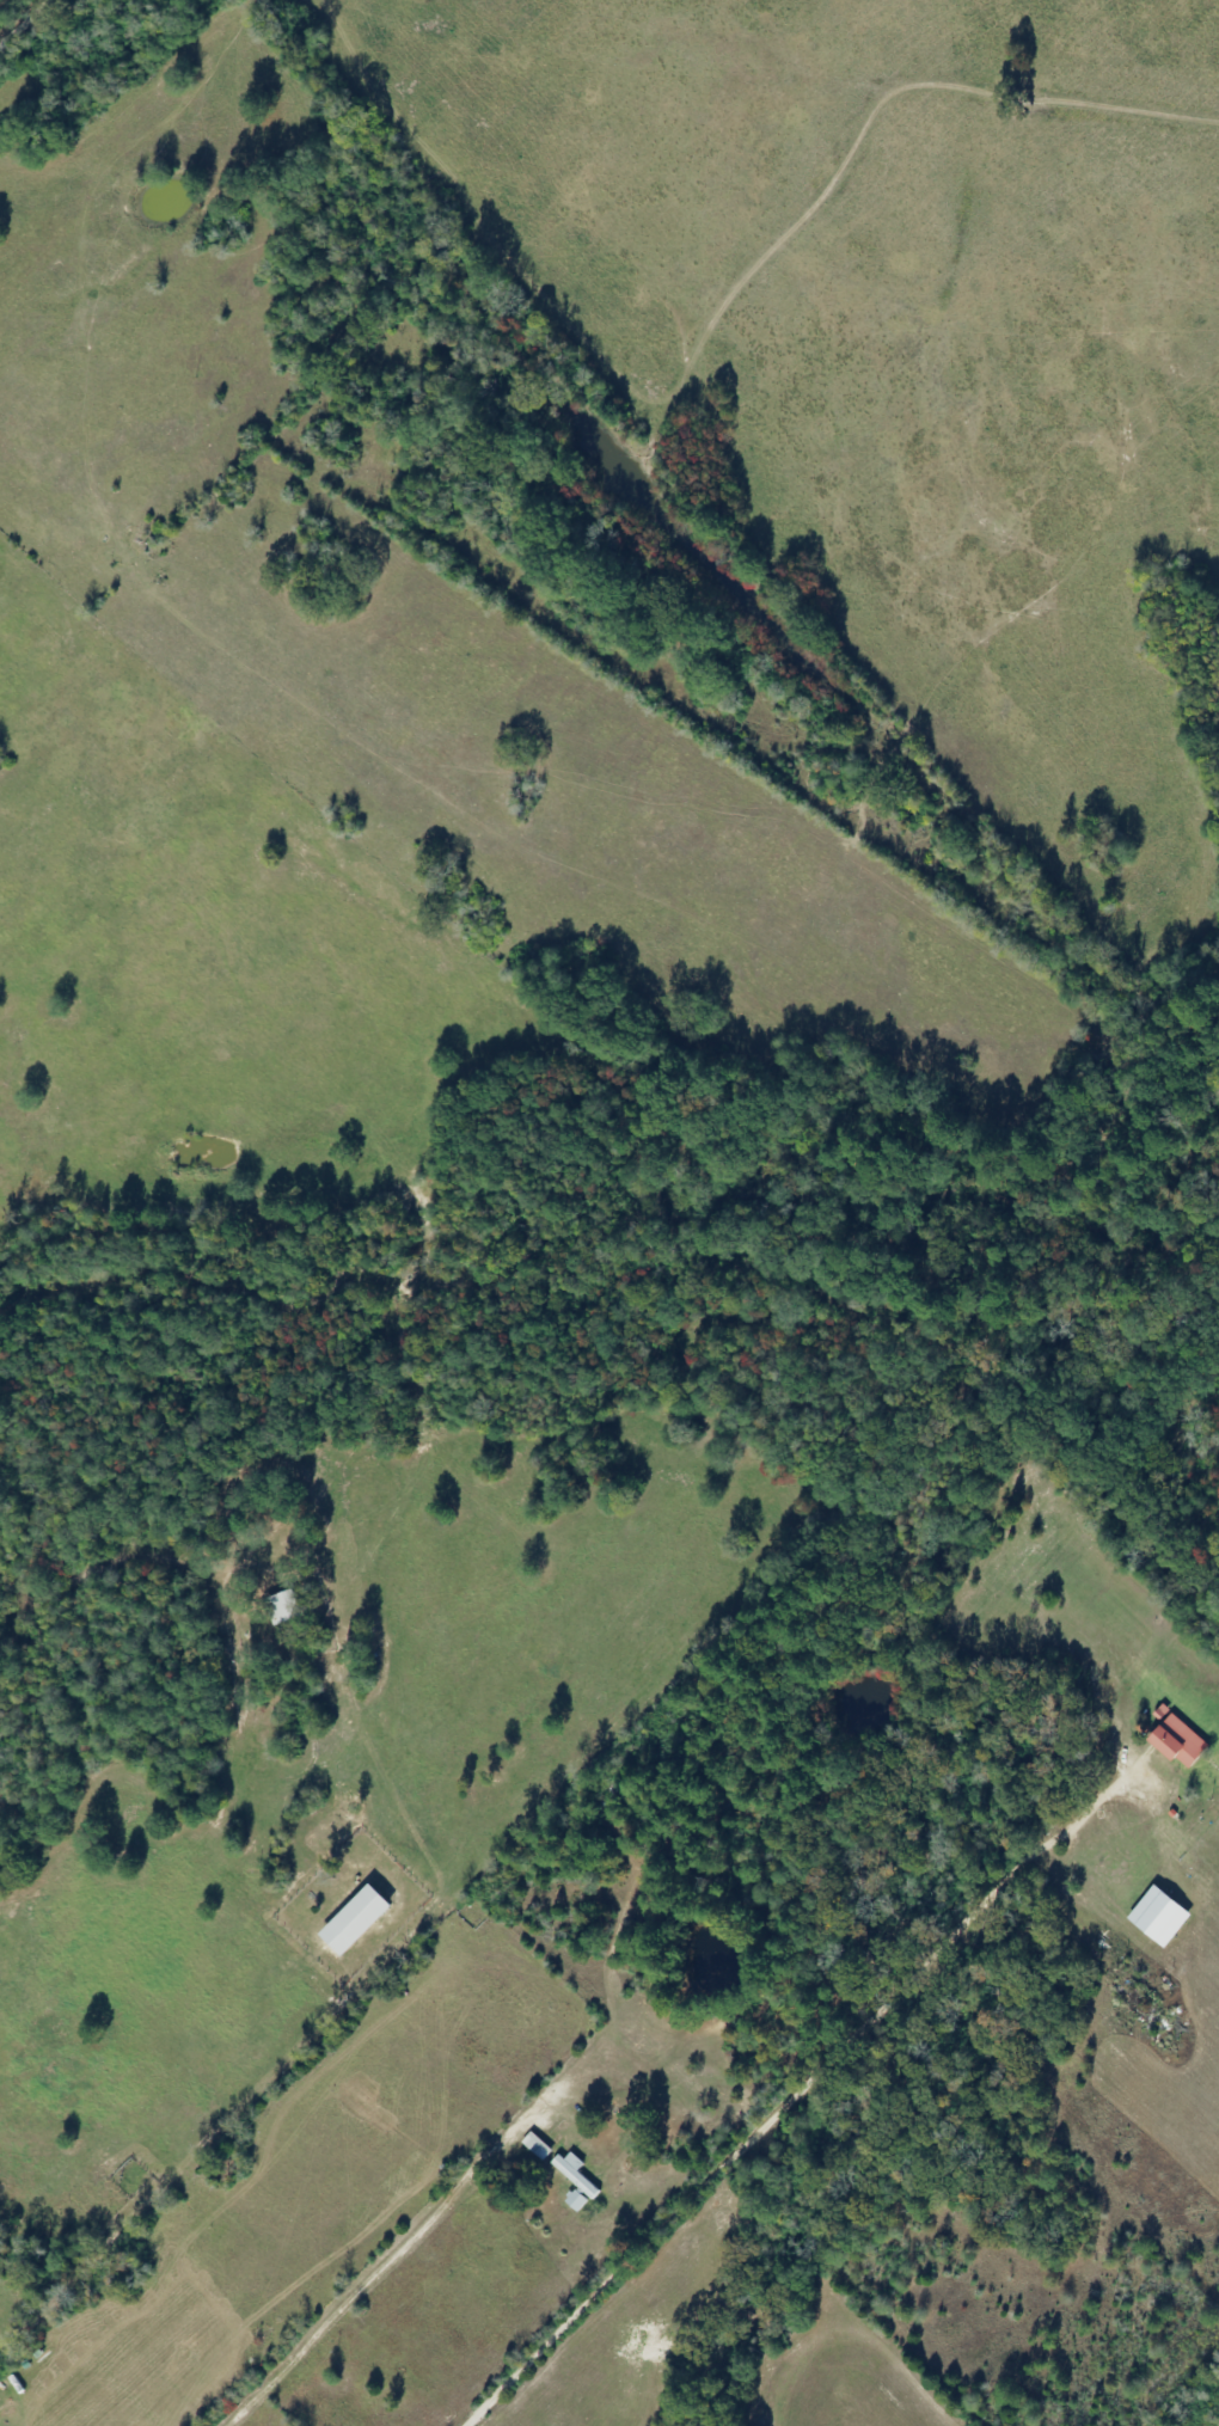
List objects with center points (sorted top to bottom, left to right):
road: (0, 0)
building: (286, 1607)
building: (1178, 1739)
building: (1162, 1917)
building: (359, 1920)
building: (538, 2146)
building: (577, 2174)
building: (578, 2201)
road: (583, 2257)
road: (801, 2301)

